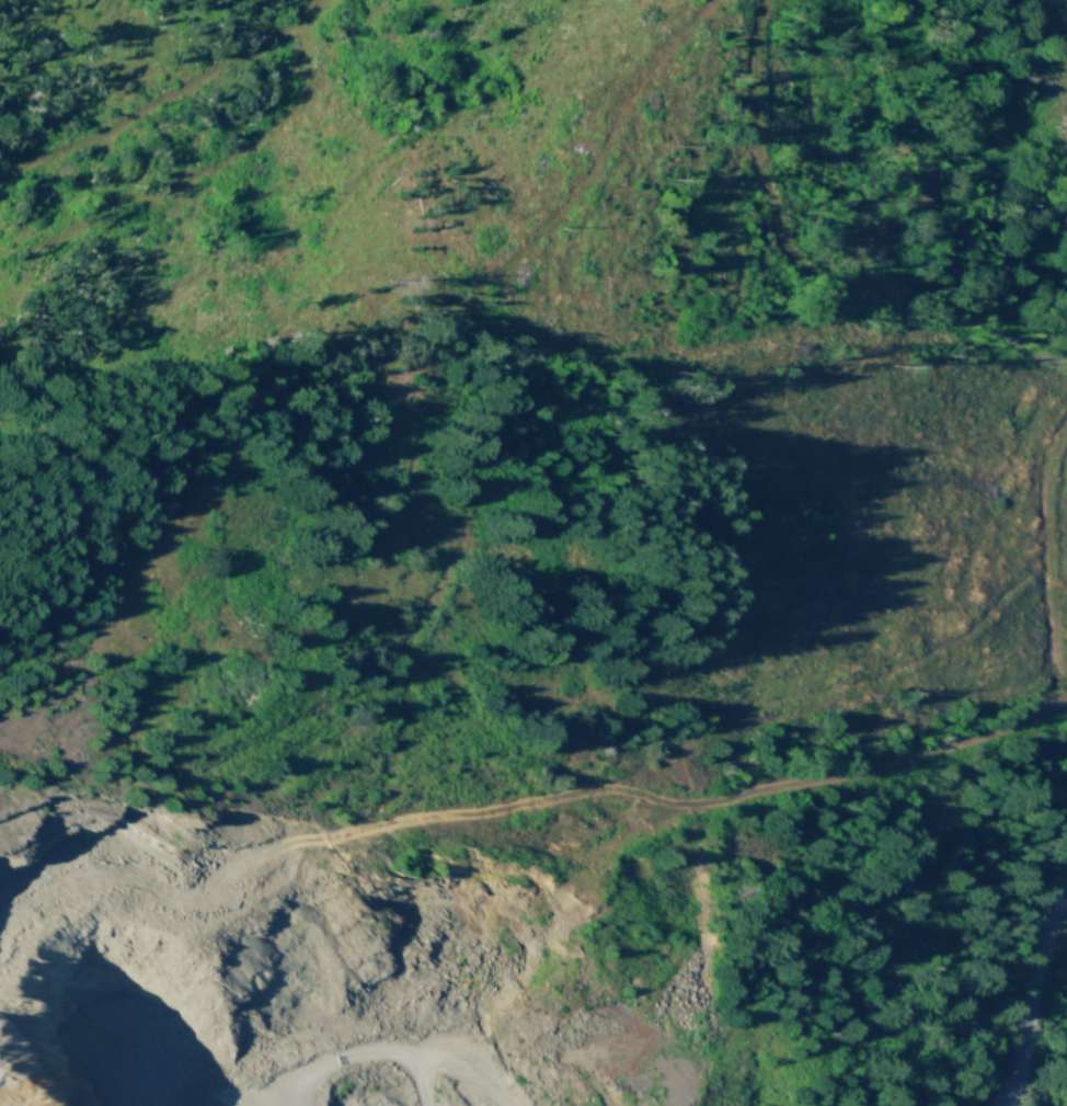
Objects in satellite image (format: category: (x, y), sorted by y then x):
road: (1026, 1022)

